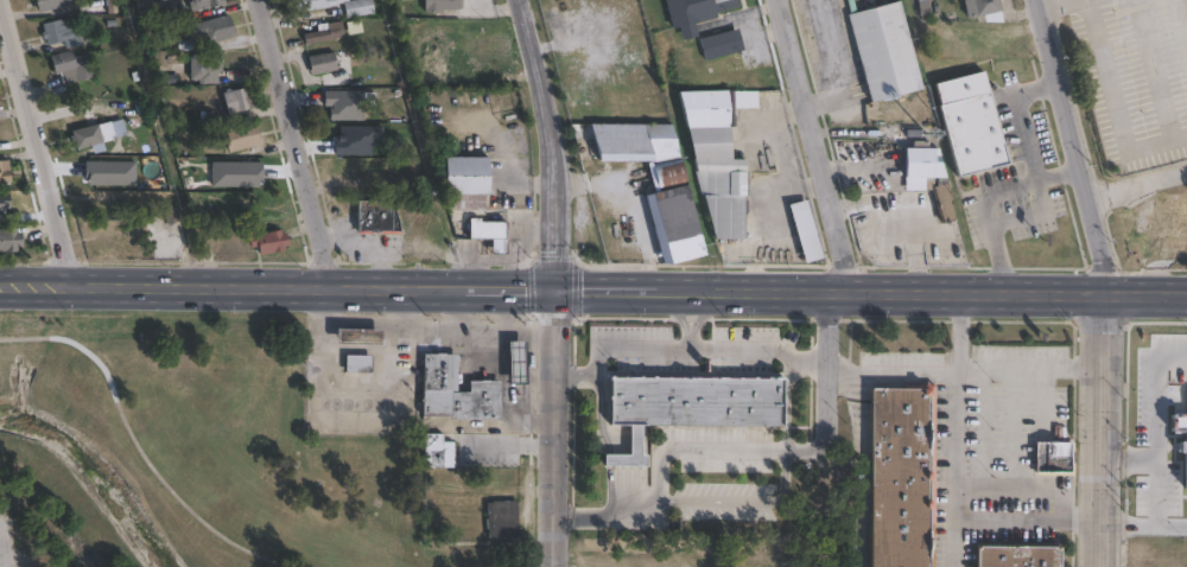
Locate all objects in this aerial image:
building: (158, 0)
building: (50, 4)
building: (204, 4)
building: (317, 4)
building: (440, 5)
road: (1062, 5)
building: (982, 7)
building: (358, 8)
building: (696, 13)
road: (1182, 13)
building: (216, 28)
building: (61, 32)
building: (324, 33)
building: (722, 44)
building: (886, 51)
building: (322, 63)
building: (71, 65)
building: (205, 68)
road: (1153, 69)
building: (239, 101)
road: (1113, 104)
road: (1017, 116)
building: (94, 134)
building: (243, 136)
building: (347, 136)
building: (973, 138)
road: (296, 141)
building: (630, 144)
road: (815, 145)
road: (1072, 147)
road: (33, 148)
building: (719, 155)
building: (923, 168)
building: (5, 171)
building: (468, 176)
road: (810, 178)
road: (1136, 186)
road: (788, 187)
road: (980, 196)
building: (7, 205)
building: (266, 206)
building: (678, 212)
road: (1032, 216)
building: (375, 217)
building: (1169, 227)
building: (805, 230)
building: (430, 234)
building: (490, 235)
building: (9, 238)
building: (271, 242)
road: (1159, 262)
road: (556, 281)
road: (551, 286)
traffic signals: (556, 286)
road: (1144, 295)
road: (451, 330)
building: (360, 336)
road: (639, 346)
road: (760, 346)
road: (320, 350)
building: (515, 361)
building: (360, 363)
road: (1027, 367)
road: (849, 371)
building: (453, 389)
road: (1162, 396)
road: (1045, 401)
building: (686, 404)
road: (401, 415)
road: (982, 427)
road: (1013, 427)
road: (952, 429)
road: (1103, 431)
road: (134, 444)
building: (1181, 445)
building: (436, 450)
road: (704, 450)
park: (223, 452)
building: (1049, 458)
building: (901, 477)
road: (1023, 488)
road: (1161, 490)
road: (734, 502)
building: (503, 520)
road: (1026, 520)
road: (1174, 522)
road: (5, 544)
park: (686, 548)
building: (1014, 555)

